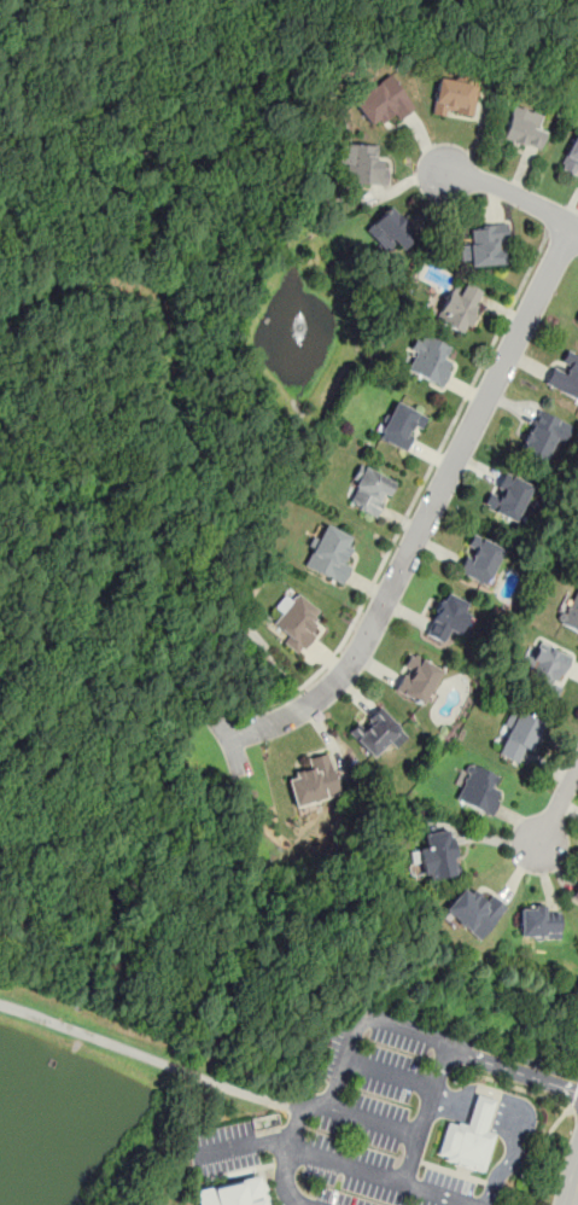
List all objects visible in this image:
building: (454, 97)
building: (381, 100)
building: (525, 127)
building: (571, 155)
building: (362, 164)
road: (509, 191)
building: (390, 229)
road: (562, 238)
building: (484, 245)
building: (459, 305)
building: (577, 318)
building: (427, 359)
building: (565, 376)
building: (401, 425)
building: (544, 432)
road: (421, 483)
building: (369, 488)
building: (508, 494)
road: (430, 512)
building: (328, 552)
building: (479, 558)
building: (571, 612)
building: (446, 616)
building: (297, 618)
building: (543, 665)
building: (416, 677)
building: (376, 730)
building: (519, 734)
building: (313, 781)
building: (478, 788)
road: (559, 807)
building: (438, 856)
building: (576, 891)
building: (473, 910)
building: (538, 921)
road: (413, 1030)
road: (150, 1056)
road: (389, 1072)
road: (516, 1087)
road: (574, 1098)
road: (426, 1113)
road: (374, 1117)
parking lot: (349, 1130)
building: (469, 1136)
road: (240, 1145)
road: (541, 1151)
road: (285, 1157)
road: (376, 1176)
building: (230, 1193)
road: (577, 1203)

